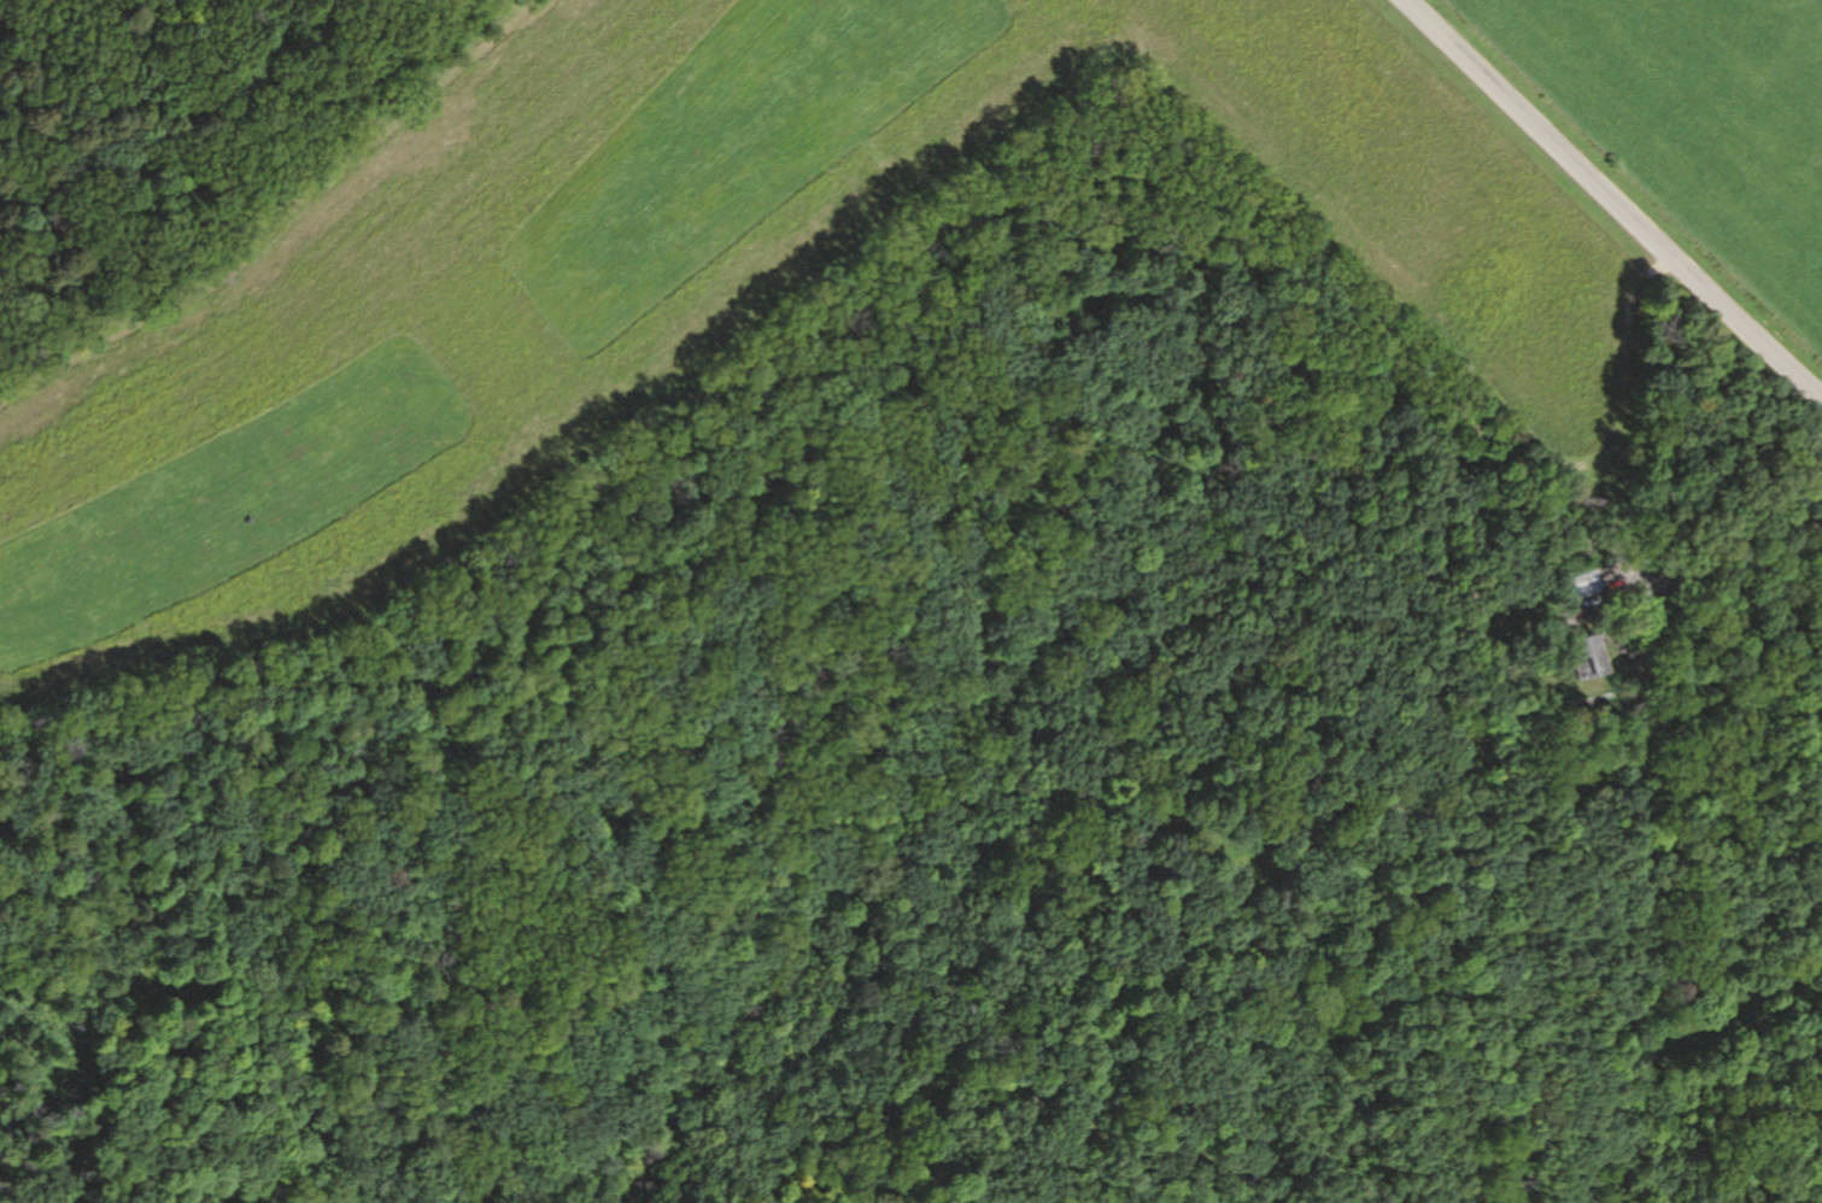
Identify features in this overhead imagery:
road: (1610, 201)
building: (1572, 581)
building: (1581, 656)

